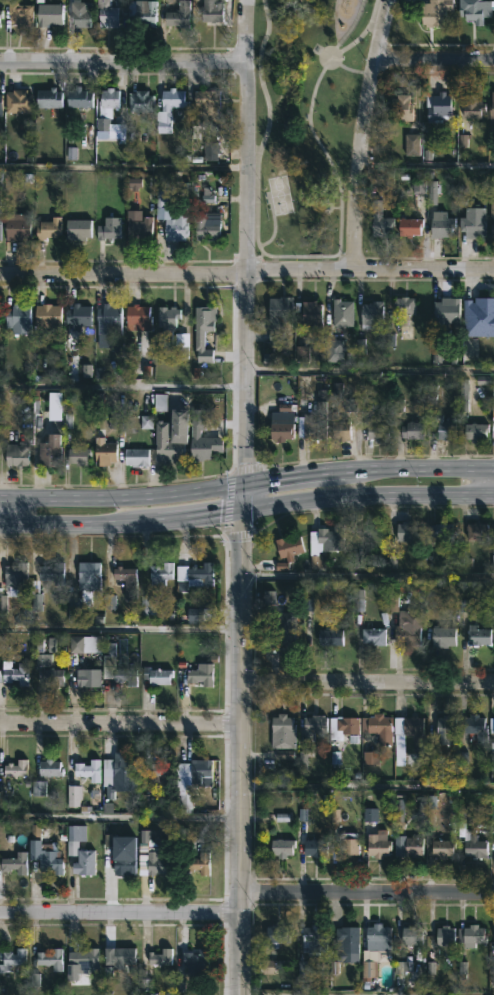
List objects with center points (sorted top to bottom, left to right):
building: (474, 10)
building: (210, 11)
building: (434, 12)
building: (106, 13)
building: (47, 14)
building: (78, 14)
building: (19, 15)
building: (177, 15)
building: (144, 16)
building: (1, 19)
road: (433, 57)
road: (122, 60)
road: (347, 68)
building: (48, 98)
building: (77, 98)
building: (108, 98)
building: (16, 101)
building: (139, 102)
building: (205, 102)
building: (1, 104)
building: (471, 106)
building: (491, 106)
building: (437, 107)
building: (401, 108)
building: (167, 109)
park: (303, 122)
building: (118, 132)
road: (358, 134)
building: (211, 151)
road: (250, 153)
road: (424, 163)
road: (122, 166)
park: (278, 193)
building: (418, 194)
building: (491, 216)
building: (379, 221)
building: (472, 223)
building: (1, 225)
building: (136, 225)
building: (440, 225)
building: (16, 227)
building: (409, 227)
building: (47, 229)
building: (107, 229)
building: (174, 229)
building: (204, 229)
building: (76, 230)
road: (310, 256)
road: (343, 262)
road: (298, 271)
road: (423, 271)
road: (122, 273)
road: (256, 276)
building: (404, 306)
building: (477, 309)
building: (341, 314)
building: (445, 314)
building: (310, 315)
building: (370, 316)
building: (46, 317)
building: (77, 317)
building: (136, 318)
building: (277, 318)
building: (16, 320)
building: (108, 320)
building: (166, 323)
building: (202, 332)
road: (368, 370)
road: (232, 379)
road: (121, 386)
building: (162, 404)
building: (53, 407)
building: (280, 426)
building: (314, 426)
building: (443, 428)
building: (340, 430)
building: (411, 431)
building: (376, 433)
building: (474, 433)
building: (194, 434)
building: (170, 439)
building: (47, 452)
building: (107, 453)
building: (15, 456)
building: (77, 457)
building: (135, 458)
road: (247, 467)
road: (246, 481)
traffic signals: (243, 482)
road: (487, 482)
road: (242, 497)
road: (226, 503)
road: (247, 508)
traffic signals: (242, 509)
road: (0, 510)
building: (439, 530)
building: (475, 530)
building: (404, 531)
road: (236, 534)
building: (324, 542)
building: (288, 546)
building: (51, 572)
building: (159, 572)
road: (368, 572)
building: (198, 573)
building: (13, 574)
building: (124, 574)
building: (84, 585)
building: (148, 606)
building: (283, 626)
road: (121, 627)
building: (407, 628)
building: (372, 635)
building: (477, 635)
building: (329, 636)
building: (442, 636)
building: (87, 646)
building: (13, 672)
building: (52, 674)
building: (155, 675)
building: (200, 675)
building: (86, 677)
building: (127, 678)
road: (367, 681)
building: (492, 719)
road: (120, 722)
building: (343, 724)
building: (407, 725)
building: (313, 726)
building: (377, 727)
building: (444, 729)
building: (474, 729)
building: (281, 731)
building: (492, 754)
building: (14, 768)
building: (49, 768)
building: (87, 769)
building: (199, 769)
building: (159, 771)
building: (117, 774)
road: (366, 785)
road: (120, 816)
building: (469, 834)
building: (377, 844)
building: (409, 846)
building: (281, 847)
building: (314, 847)
building: (346, 847)
building: (441, 847)
building: (78, 850)
building: (44, 856)
building: (13, 863)
building: (198, 863)
building: (156, 864)
building: (126, 867)
road: (367, 891)
road: (119, 911)
building: (276, 934)
building: (410, 935)
building: (440, 936)
building: (471, 936)
building: (313, 940)
building: (346, 940)
building: (378, 941)
building: (117, 956)
building: (160, 958)
building: (11, 959)
building: (49, 959)
building: (195, 960)
building: (80, 963)
building: (367, 972)
road: (332, 993)

